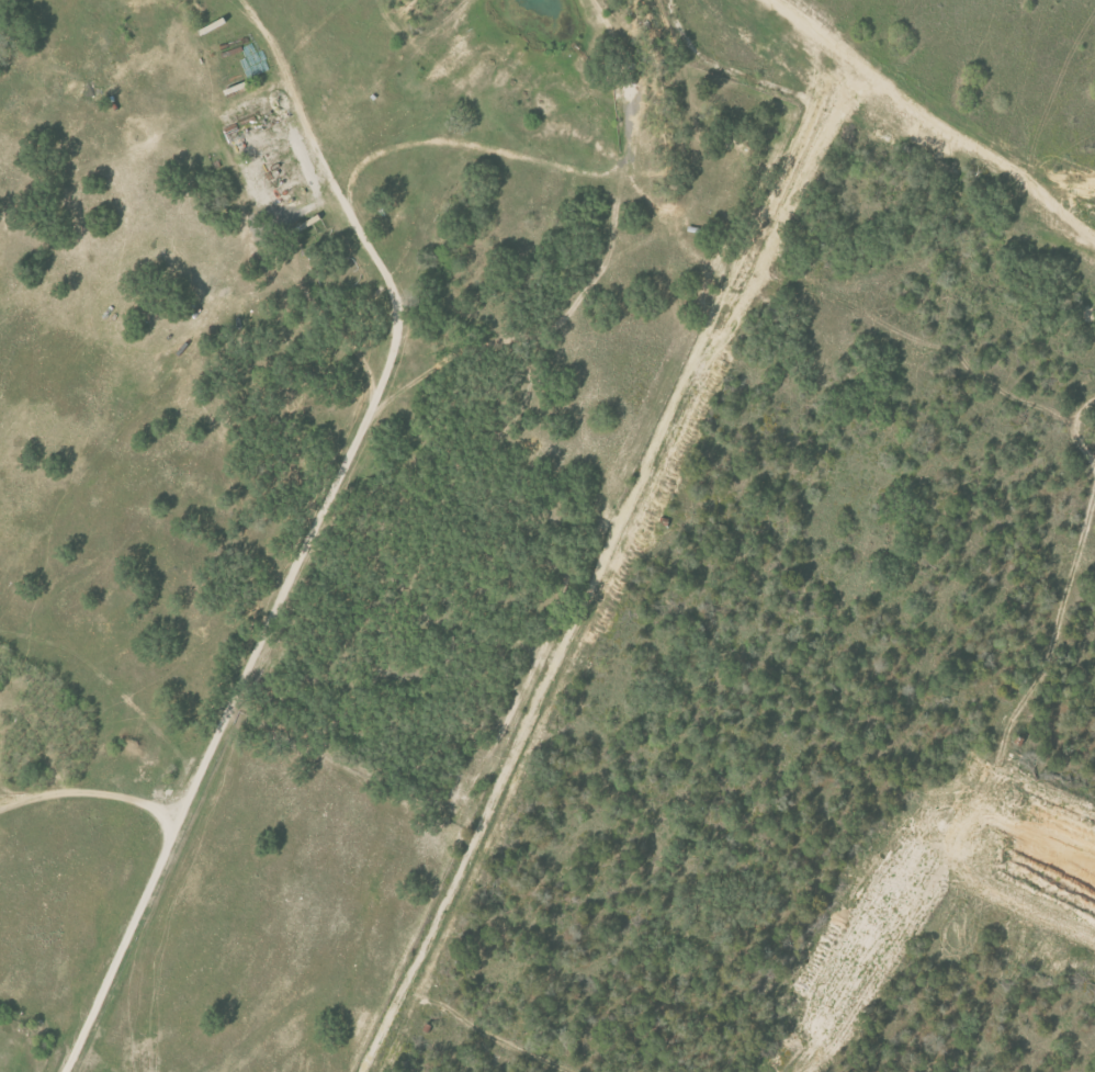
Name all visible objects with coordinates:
road: (278, 610)

